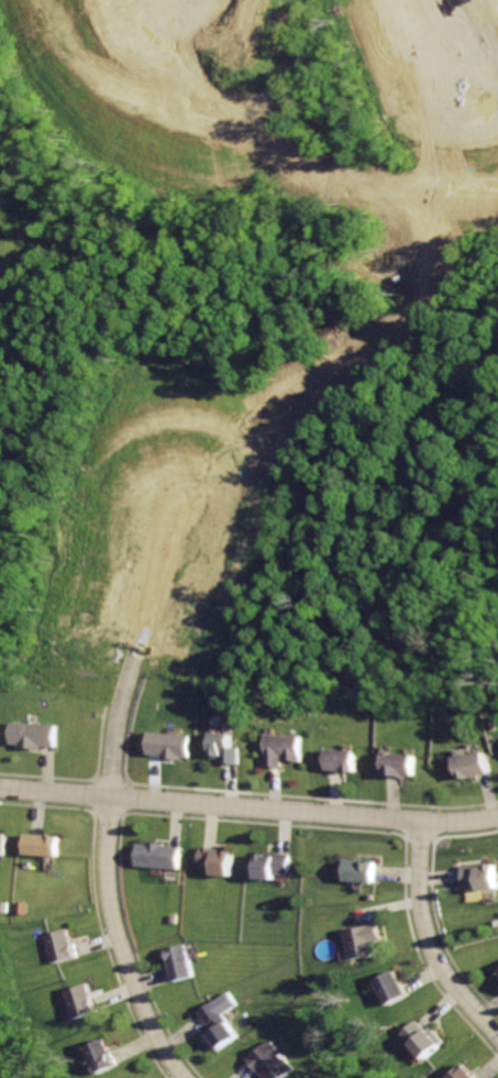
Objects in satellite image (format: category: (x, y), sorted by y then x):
building: (35, 736)
building: (170, 746)
building: (229, 750)
building: (287, 751)
building: (347, 760)
building: (406, 765)
building: (477, 766)
road: (248, 810)
building: (4, 843)
building: (44, 844)
building: (157, 858)
building: (218, 858)
building: (270, 867)
building: (357, 870)
road: (102, 873)
building: (480, 877)
building: (362, 942)
building: (62, 946)
road: (425, 947)
building: (180, 964)
building: (496, 972)
building: (388, 989)
building: (80, 1002)
building: (217, 1031)
building: (418, 1041)
building: (99, 1057)
building: (272, 1063)
building: (458, 1072)

